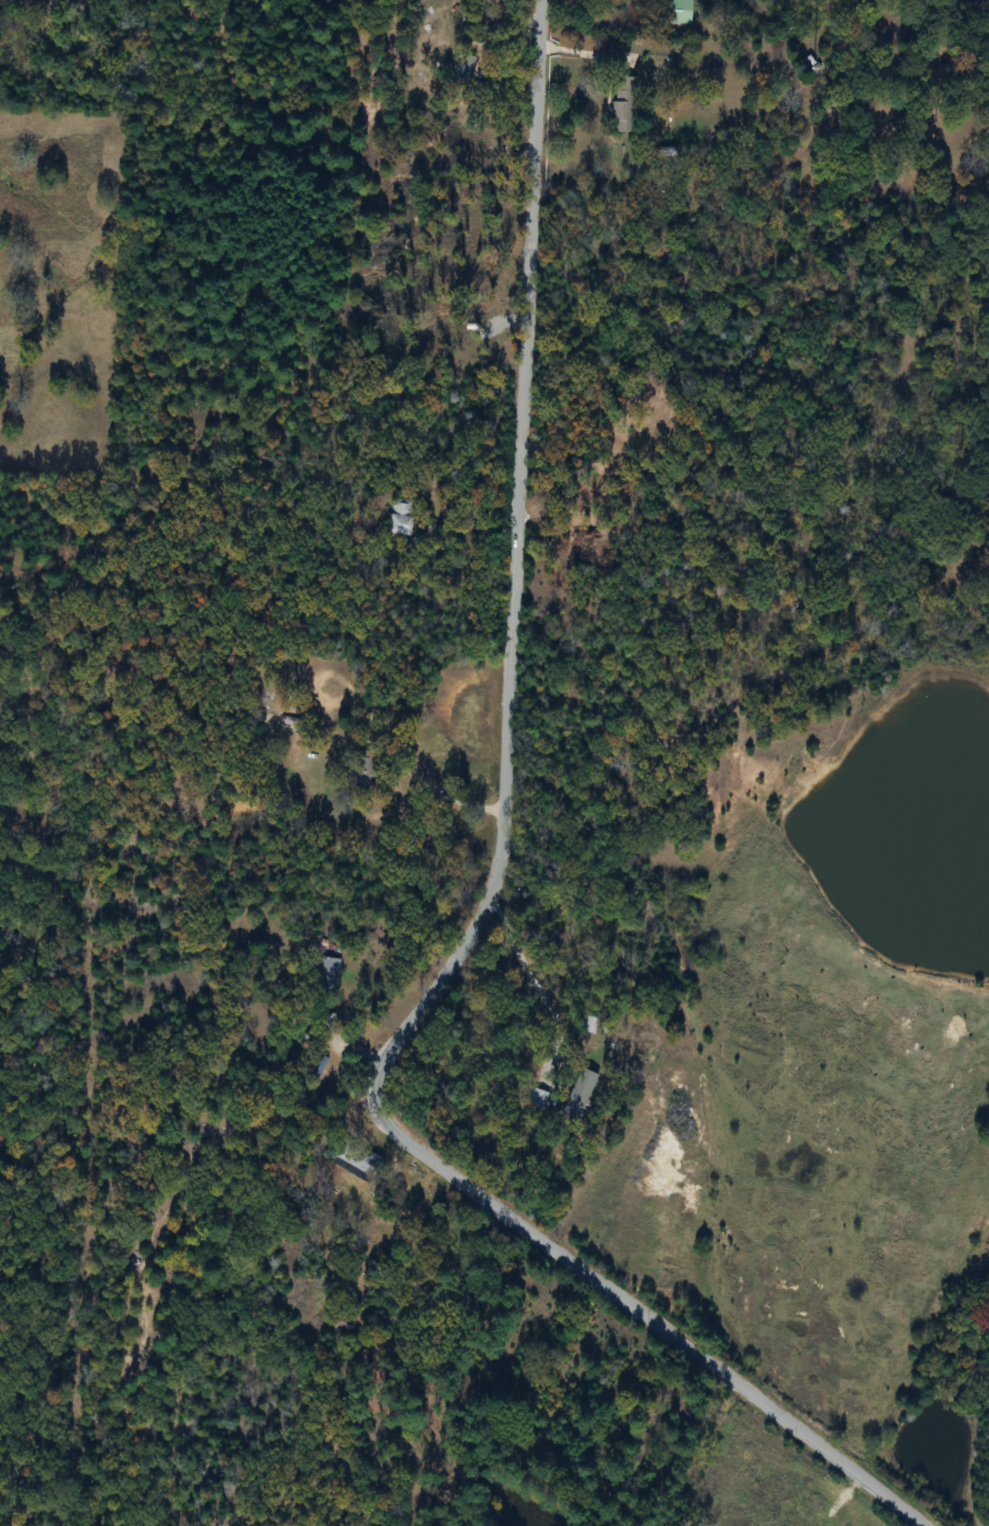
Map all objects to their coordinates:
building: (37, 1)
building: (680, 12)
road: (592, 53)
building: (463, 74)
building: (626, 106)
building: (402, 517)
road: (505, 761)
building: (364, 773)
road: (423, 774)
road: (532, 972)
building: (329, 975)
building: (358, 1157)
road: (799, 1433)

